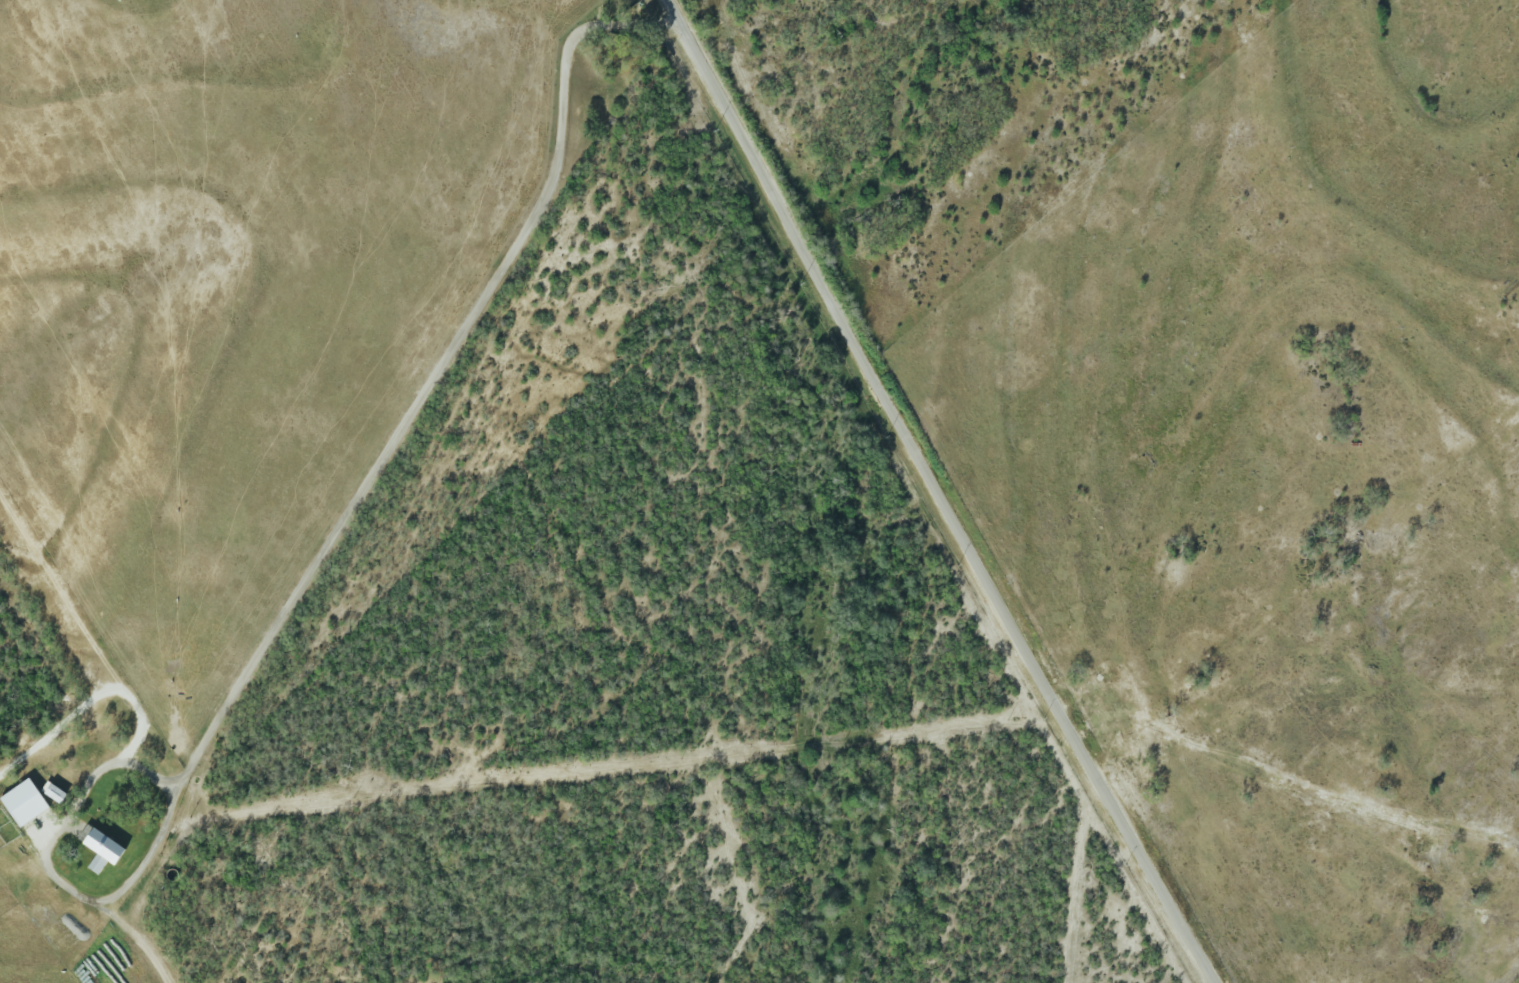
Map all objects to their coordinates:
road: (678, 21)
road: (698, 53)
road: (962, 523)
road: (327, 552)
building: (53, 793)

